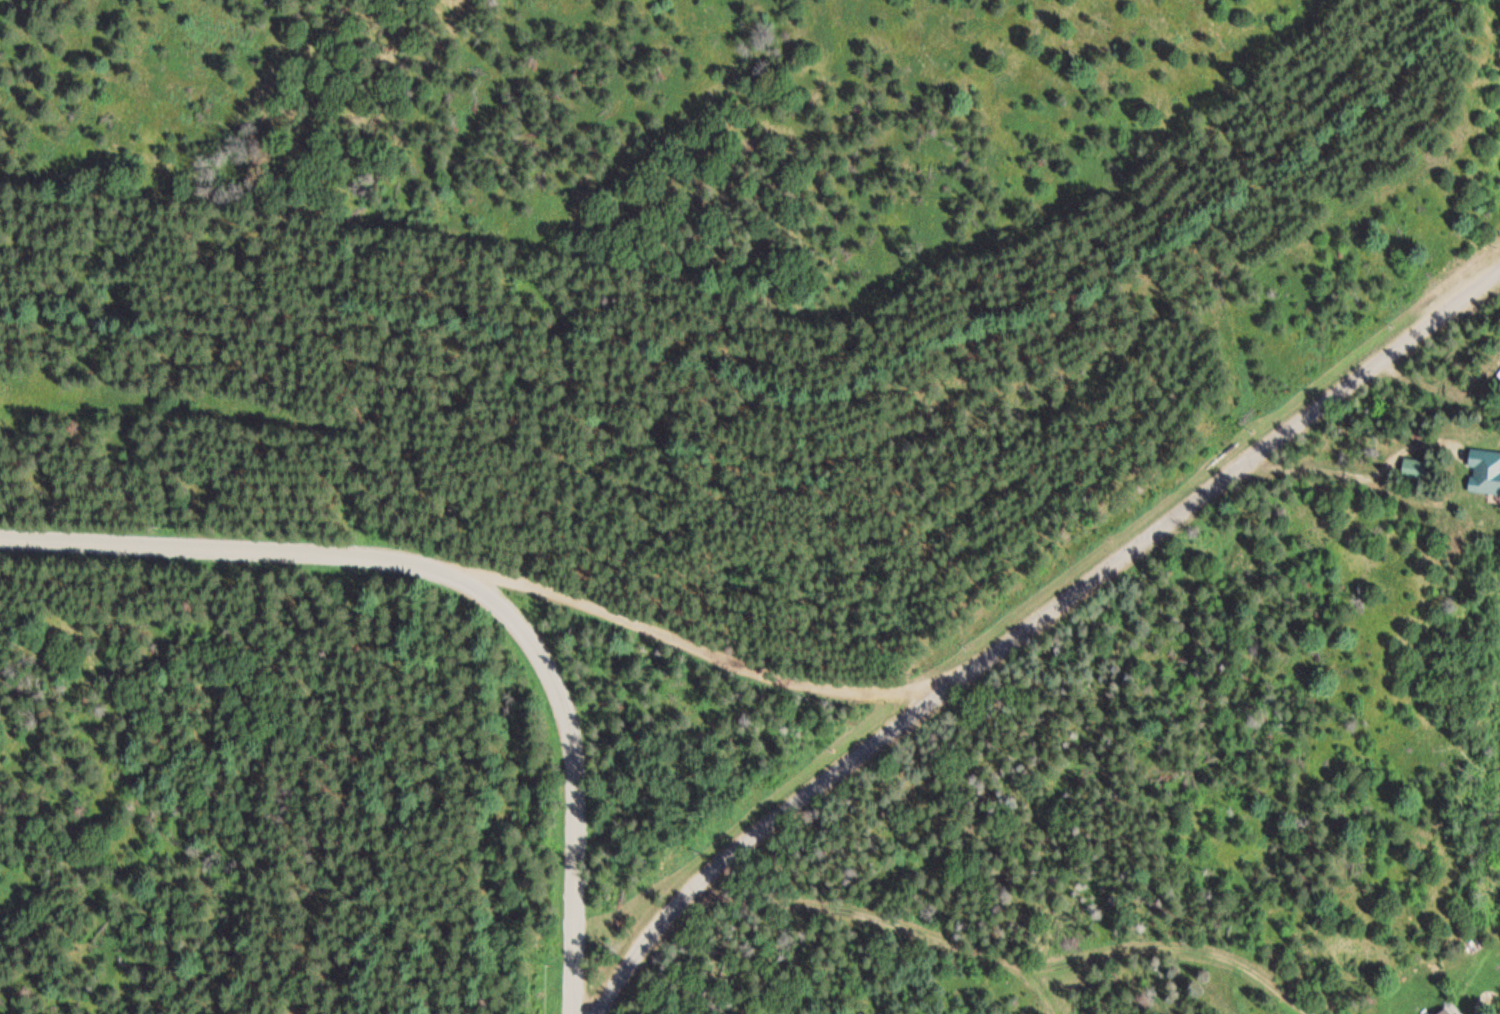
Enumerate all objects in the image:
building: (1495, 379)
building: (1414, 468)
building: (1485, 471)
road: (239, 549)
road: (1033, 624)
road: (704, 652)
road: (573, 782)
road: (1020, 968)
road: (1048, 992)
building: (1449, 1010)

